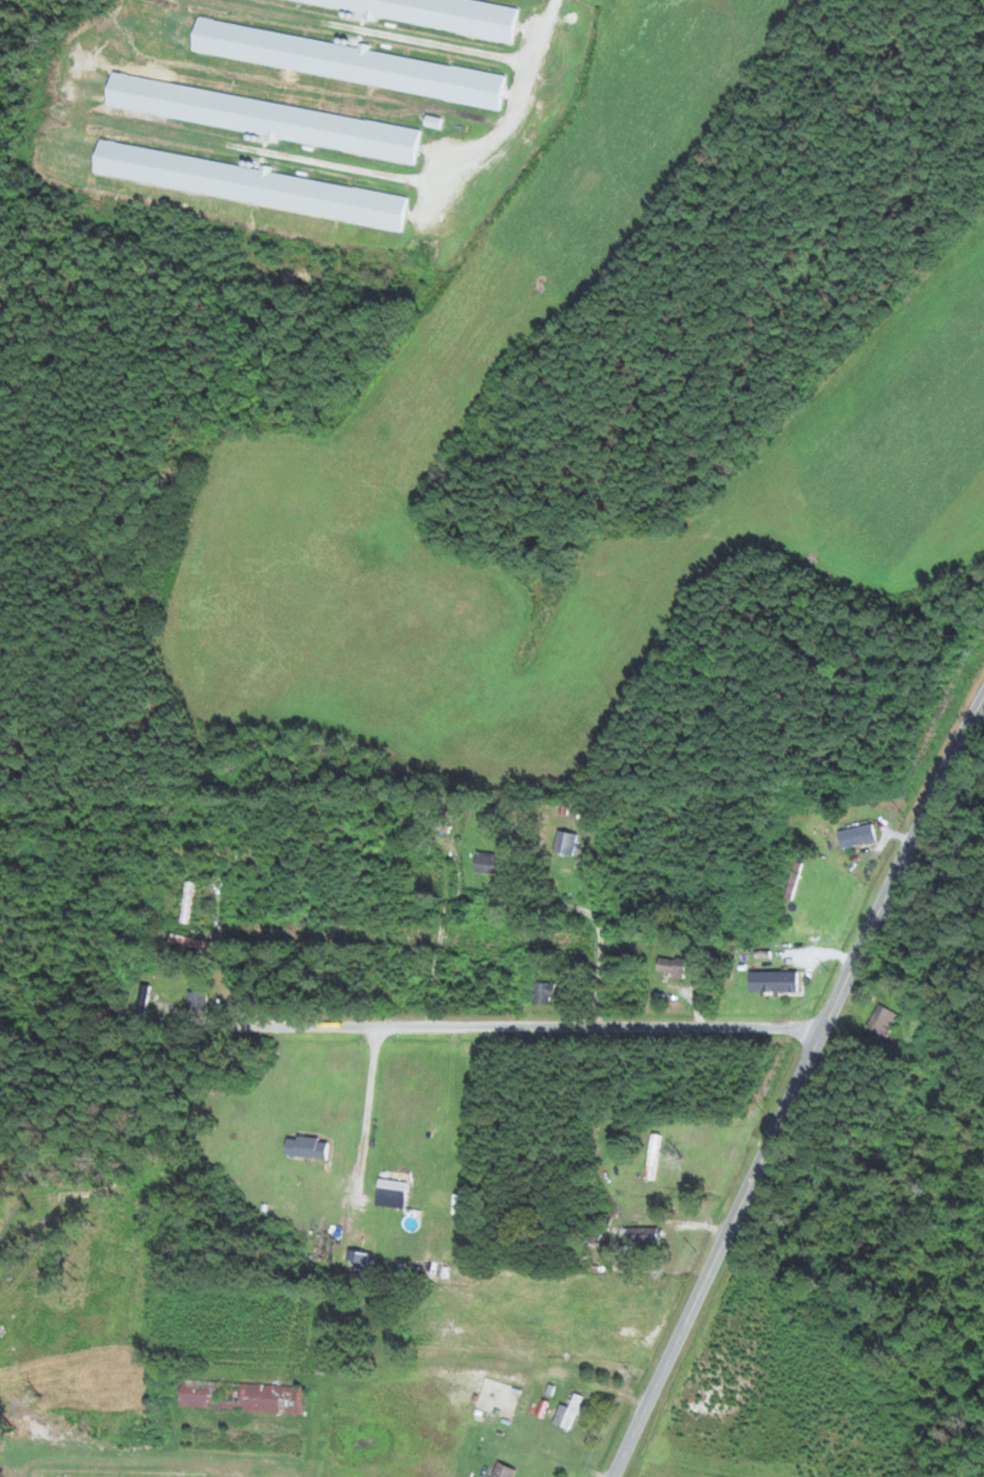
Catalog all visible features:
building: (434, 13)
building: (346, 63)
building: (260, 118)
building: (247, 185)
building: (854, 836)
building: (562, 843)
road: (608, 844)
building: (484, 863)
building: (791, 880)
building: (184, 903)
road: (448, 909)
building: (187, 943)
road: (158, 959)
building: (667, 968)
building: (541, 993)
building: (140, 1000)
building: (194, 1003)
building: (877, 1022)
road: (490, 1023)
road: (246, 1084)
road: (796, 1087)
road: (151, 1089)
building: (650, 1157)
building: (282, 1178)
building: (388, 1193)
building: (638, 1236)
road: (446, 1327)
building: (237, 1396)
building: (564, 1413)
building: (234, 1442)
building: (499, 1471)

